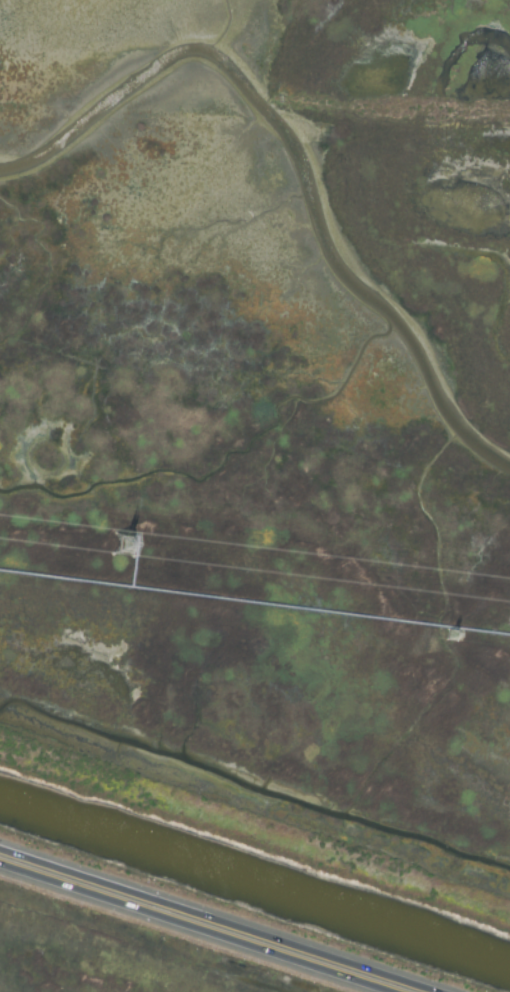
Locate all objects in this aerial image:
power tower: (120, 550)
power tower: (447, 640)
road: (207, 924)
road: (185, 931)

